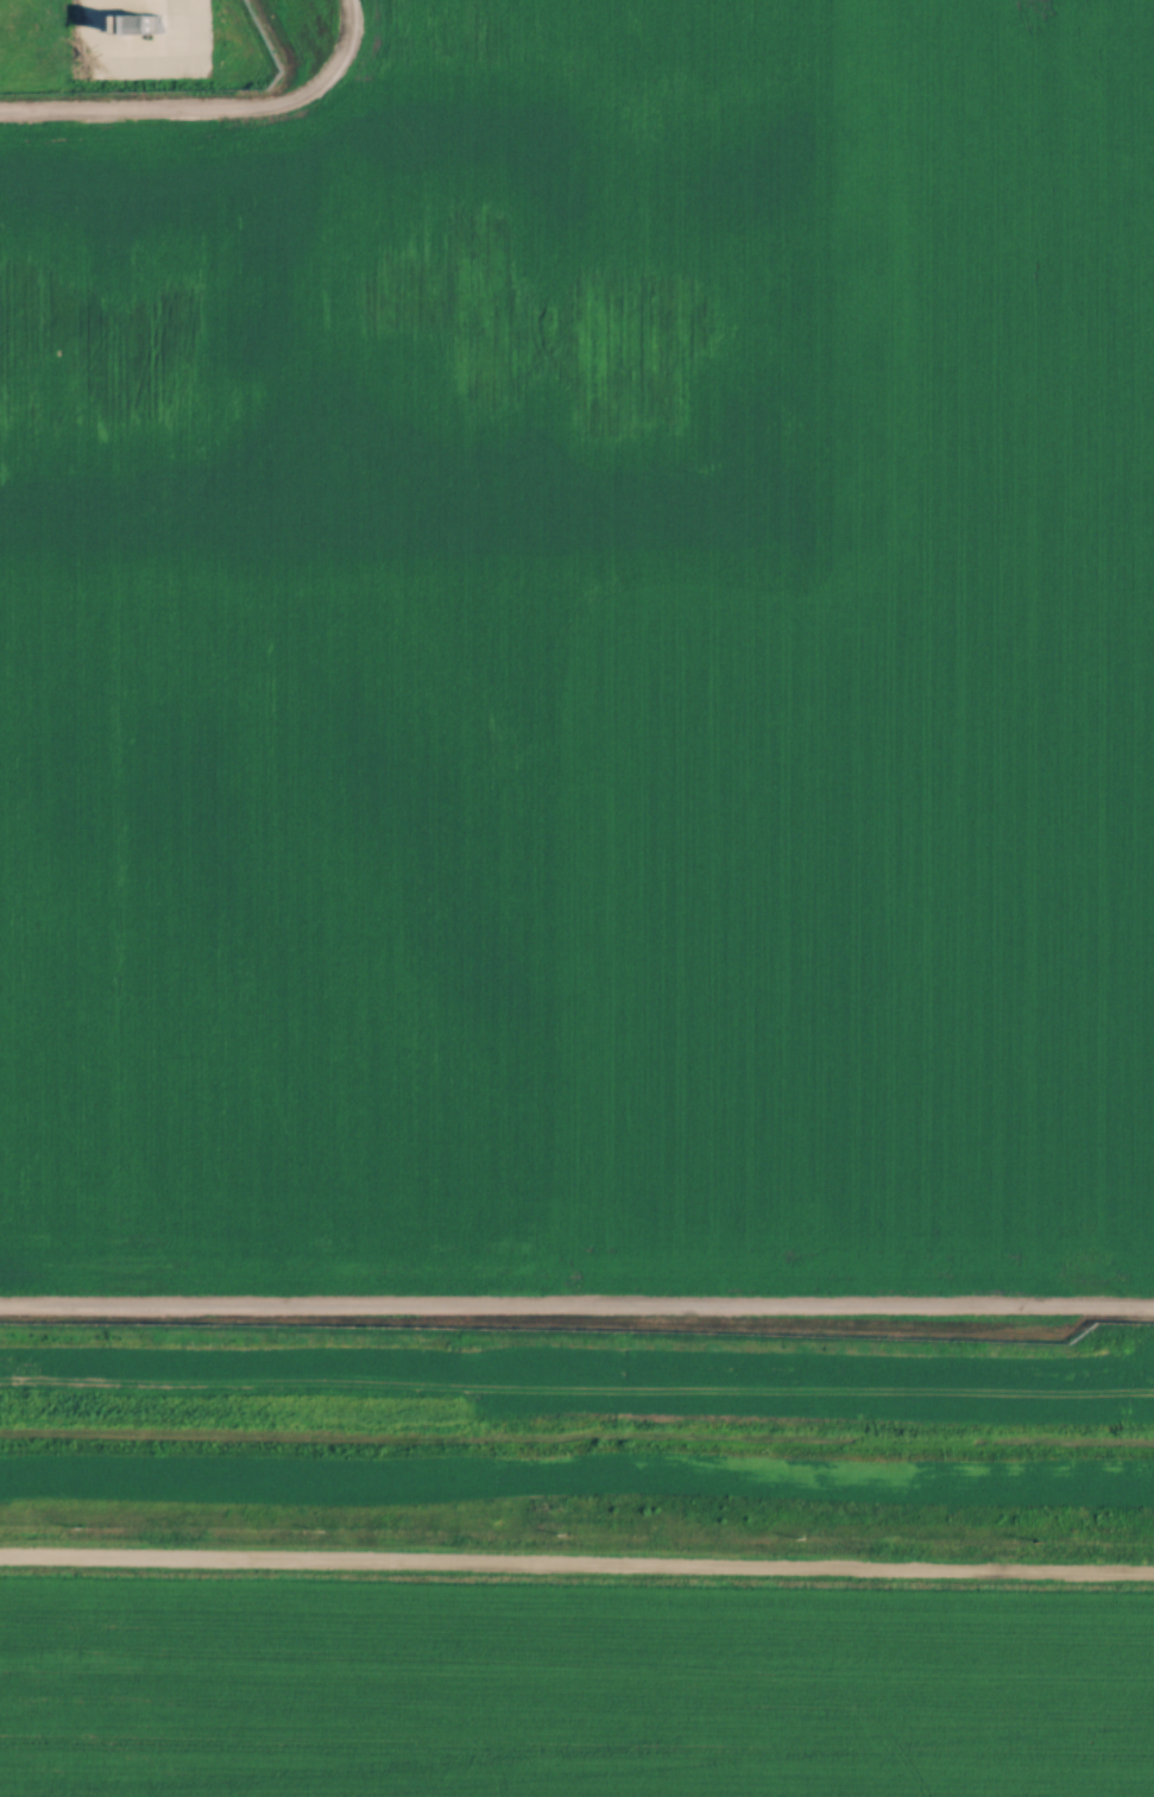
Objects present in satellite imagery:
building: (131, 19)
road: (207, 105)
road: (576, 1311)
road: (576, 1562)

